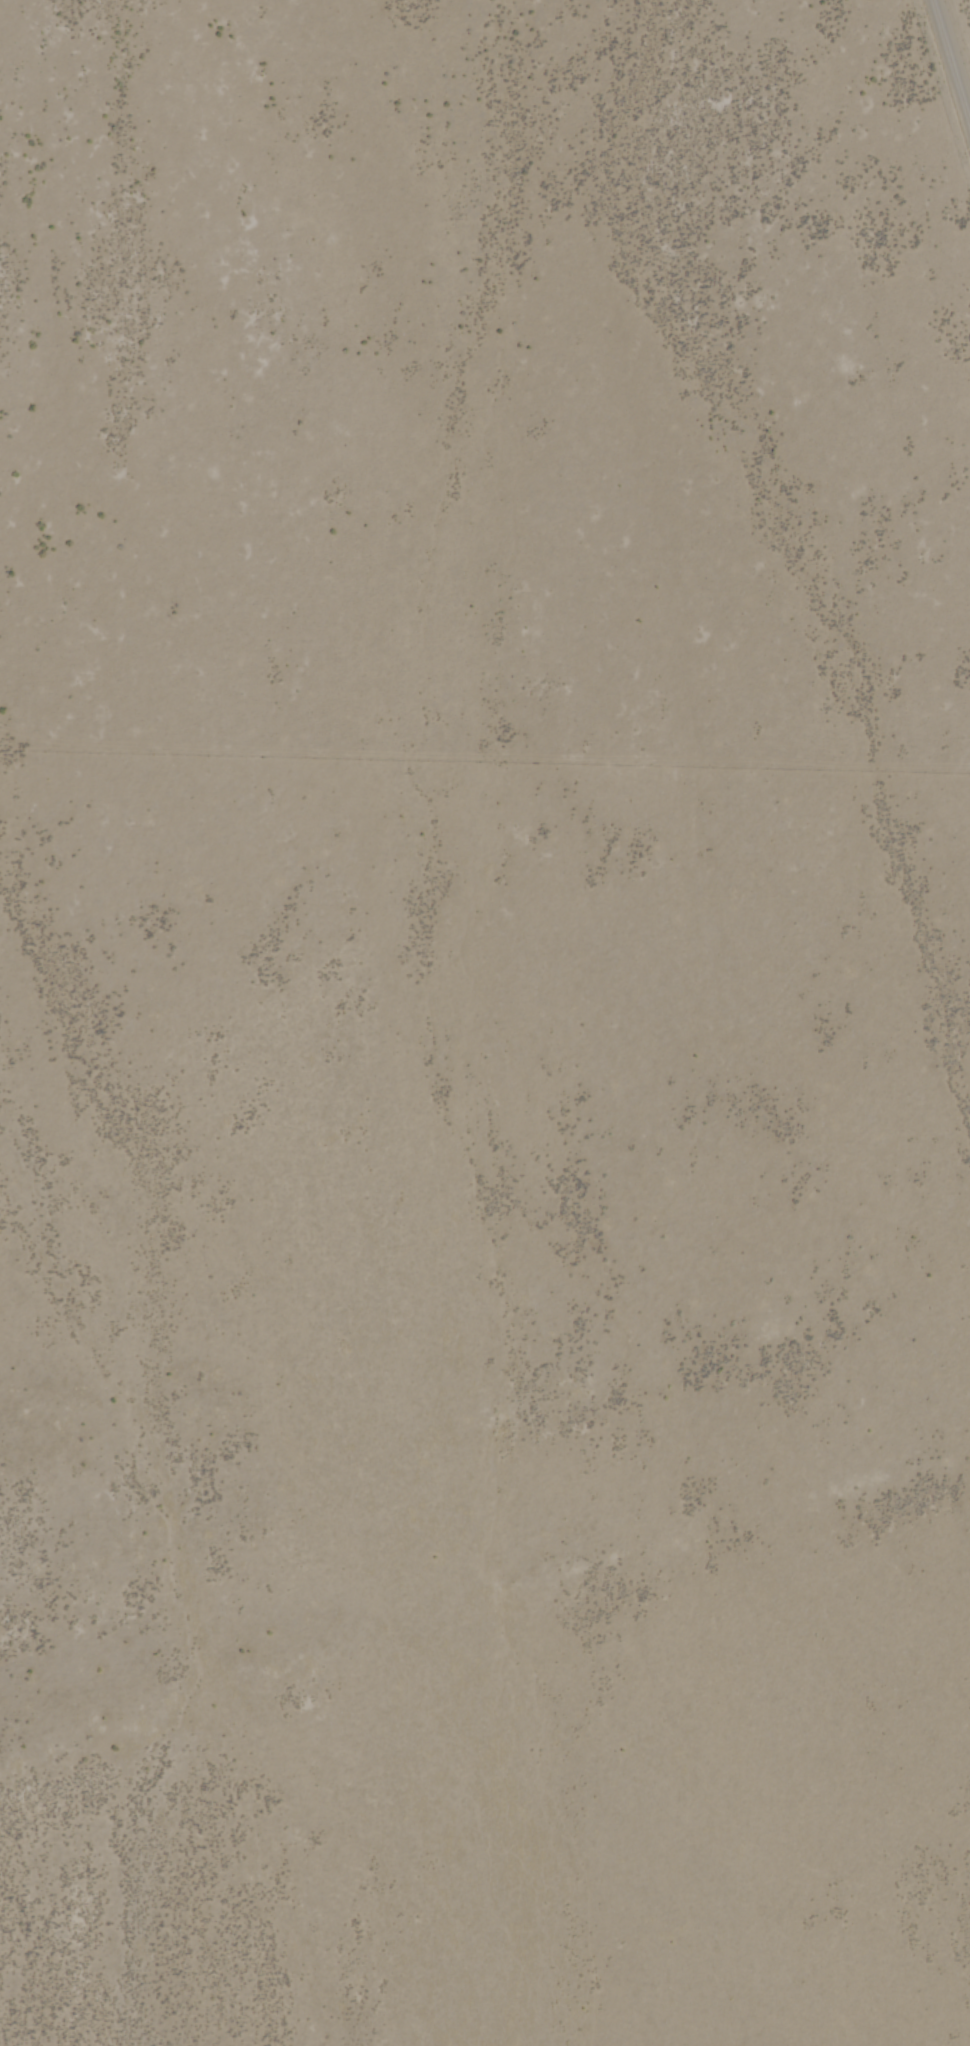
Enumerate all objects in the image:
road: (952, 60)

